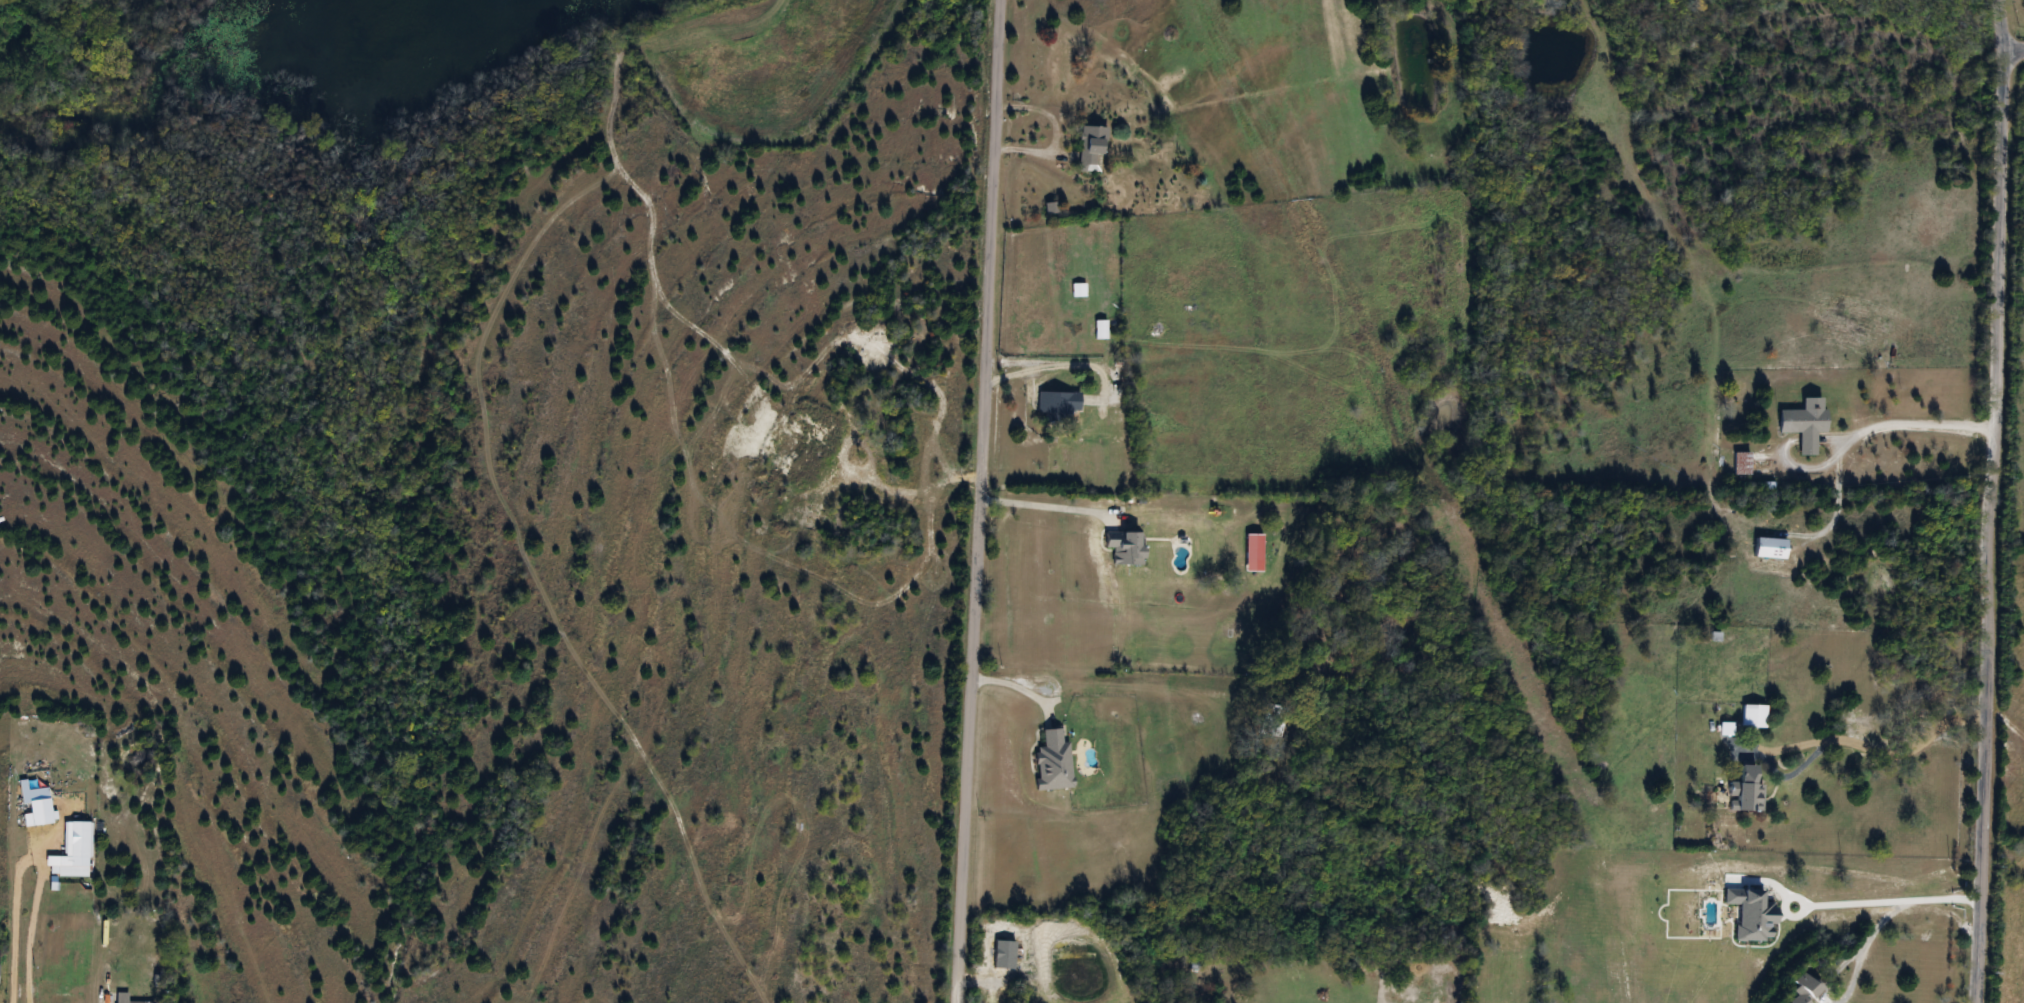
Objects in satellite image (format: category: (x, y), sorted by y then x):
road: (2013, 47)
road: (1052, 128)
building: (1090, 148)
building: (1077, 290)
building: (1099, 329)
road: (1056, 359)
building: (1057, 405)
building: (1803, 423)
road: (1877, 427)
building: (1740, 463)
road: (978, 501)
road: (1990, 501)
road: (1046, 508)
building: (1124, 547)
building: (1762, 551)
road: (1014, 682)
building: (1752, 716)
road: (1879, 755)
building: (1052, 762)
building: (1747, 790)
road: (1825, 904)
road: (13, 910)
road: (1899, 910)
road: (1790, 914)
road: (29, 923)
building: (1804, 988)
building: (49, 993)
building: (120, 996)

